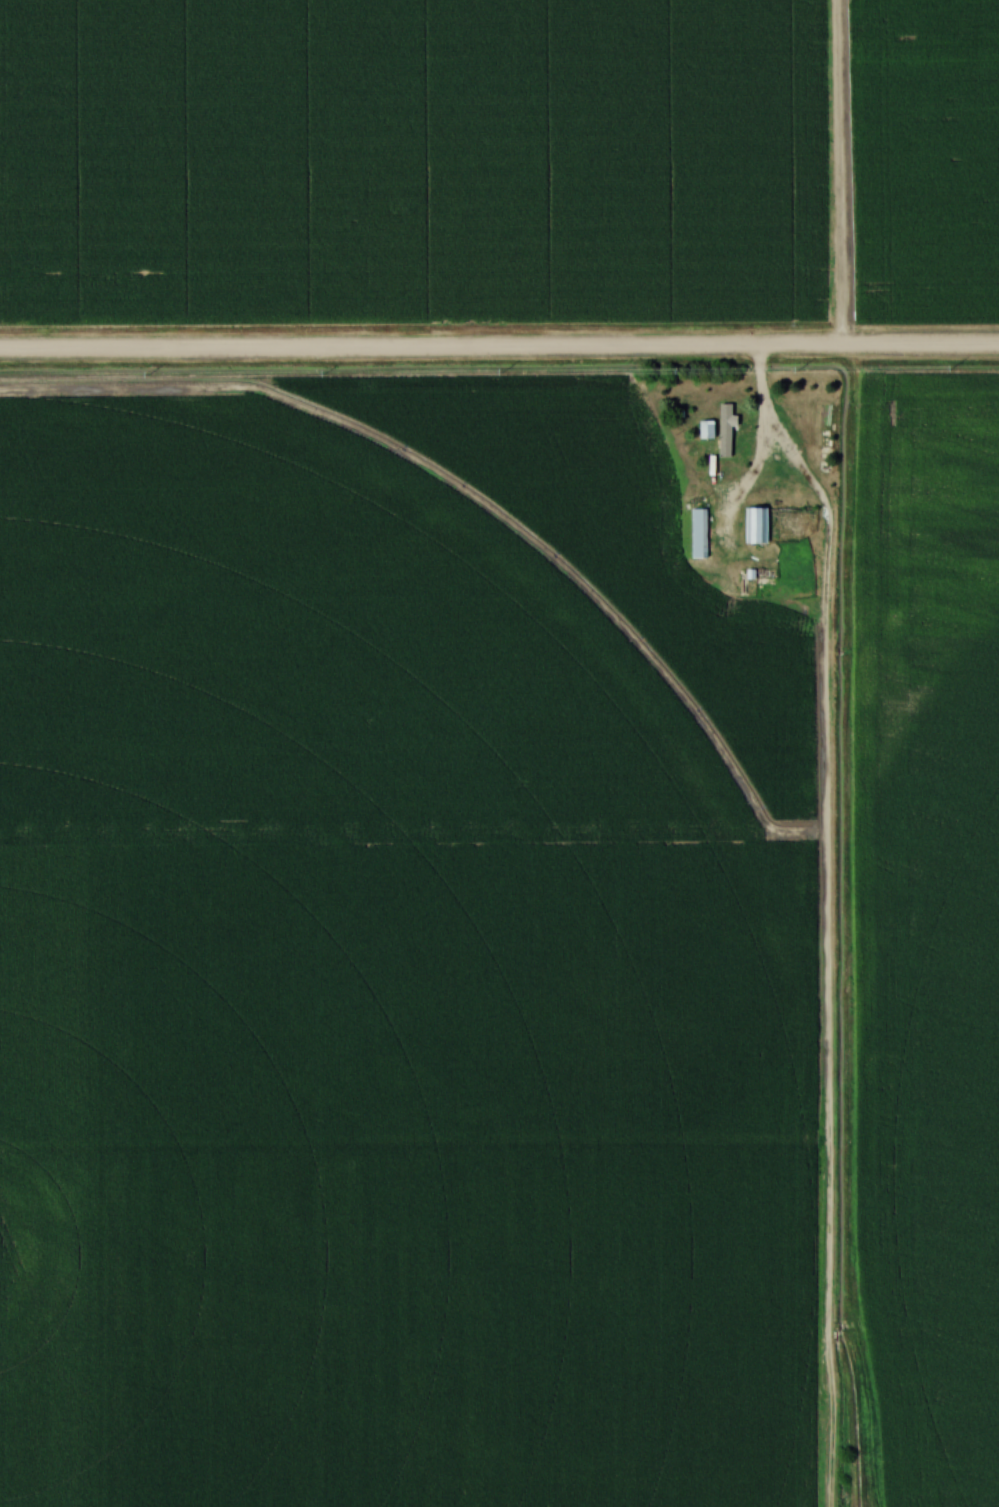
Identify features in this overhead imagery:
road: (840, 172)
road: (499, 348)
building: (708, 431)
building: (726, 431)
road: (760, 453)
building: (757, 526)
building: (700, 533)

